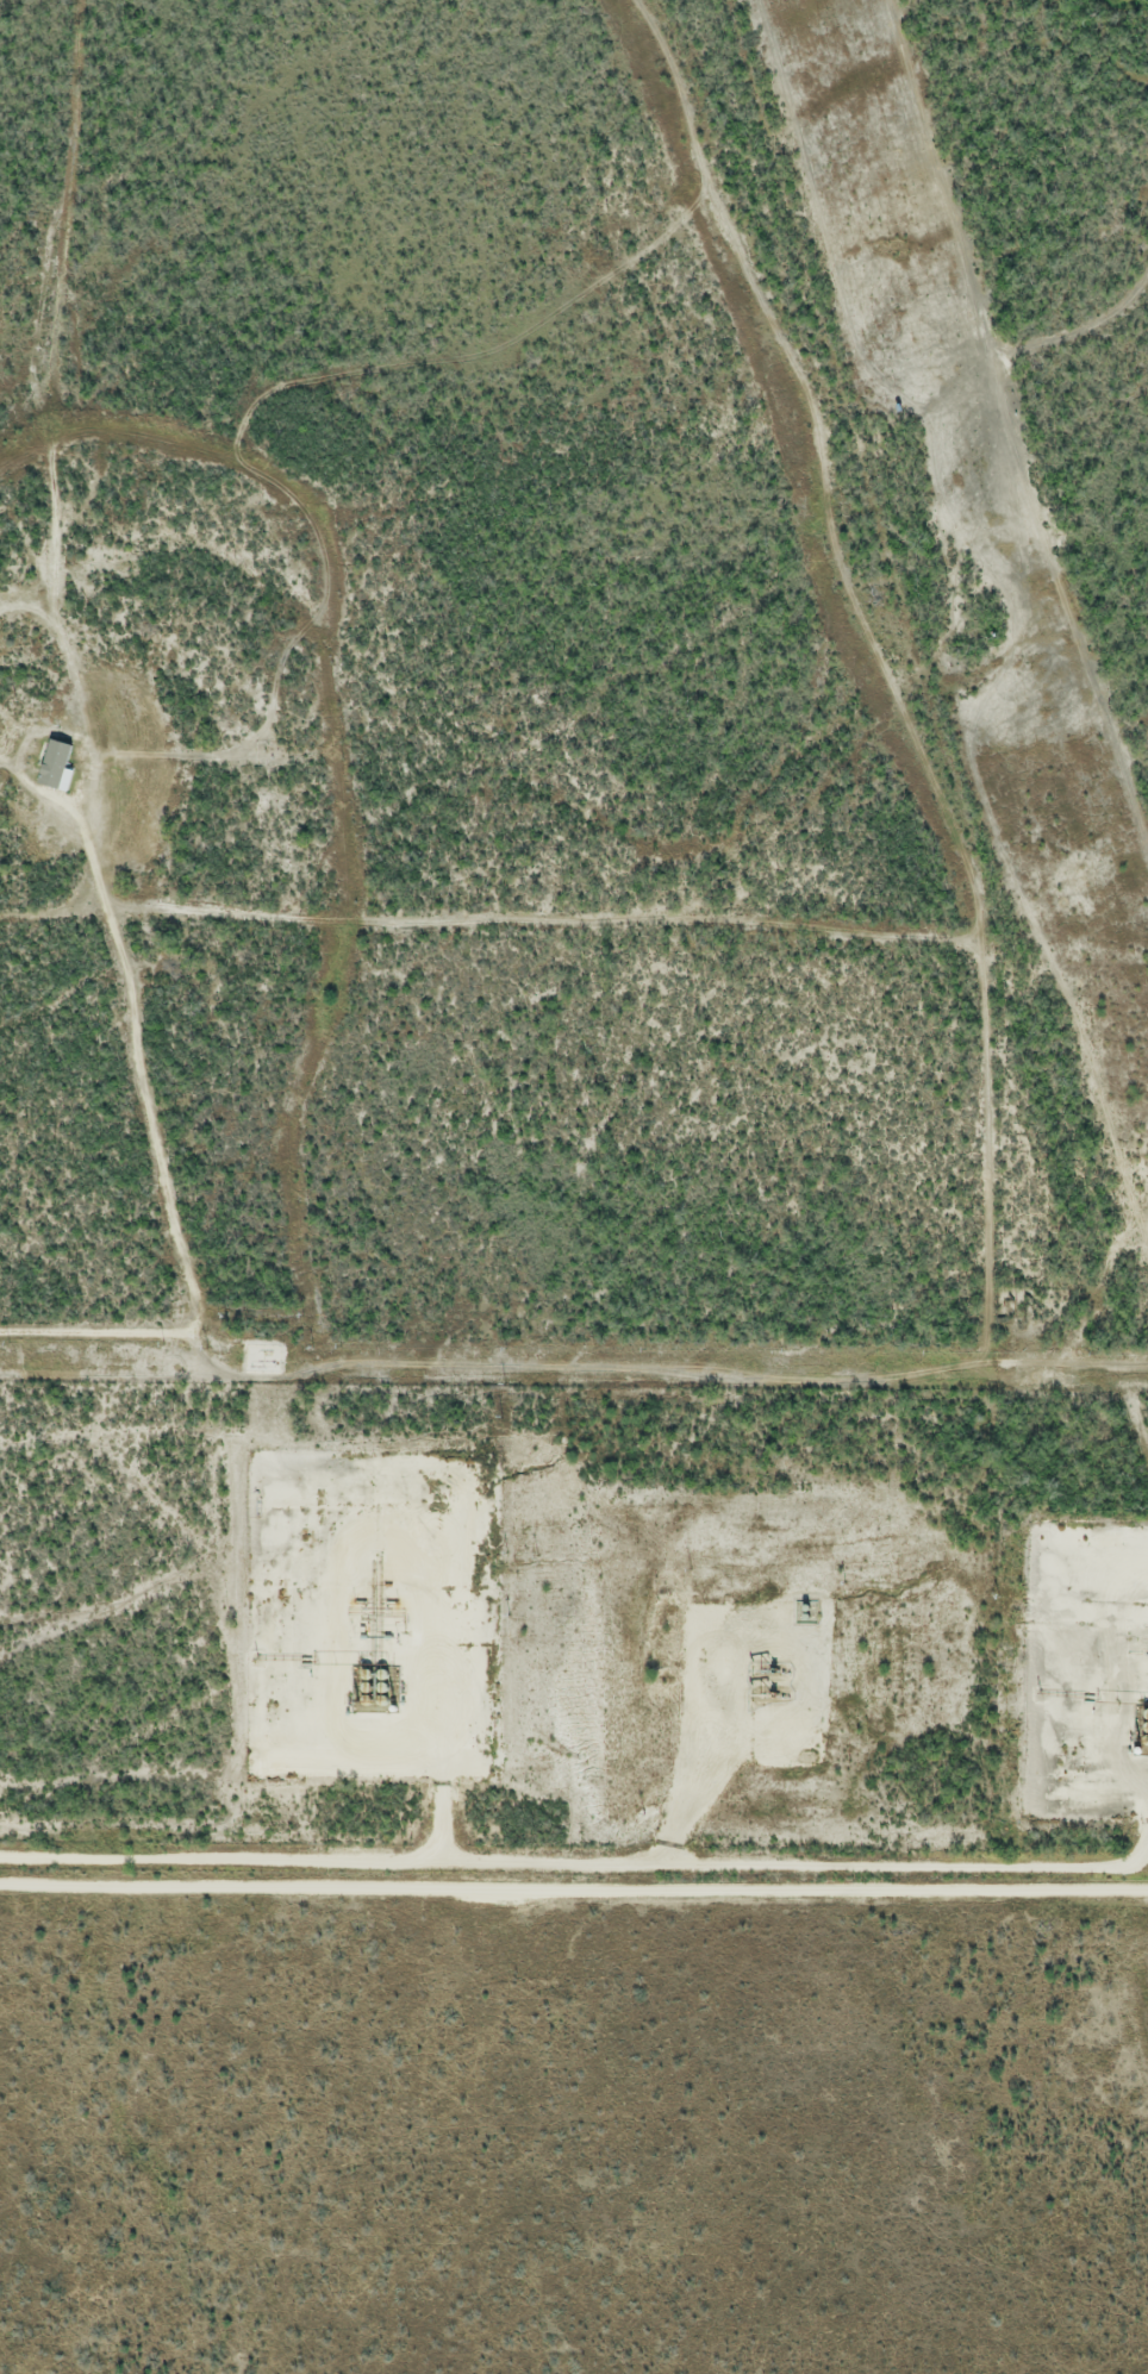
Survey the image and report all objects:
building: (33, 755)
road: (160, 1162)
road: (437, 1630)
road: (718, 1738)
road: (1141, 1847)
road: (567, 1863)
road: (574, 1887)

